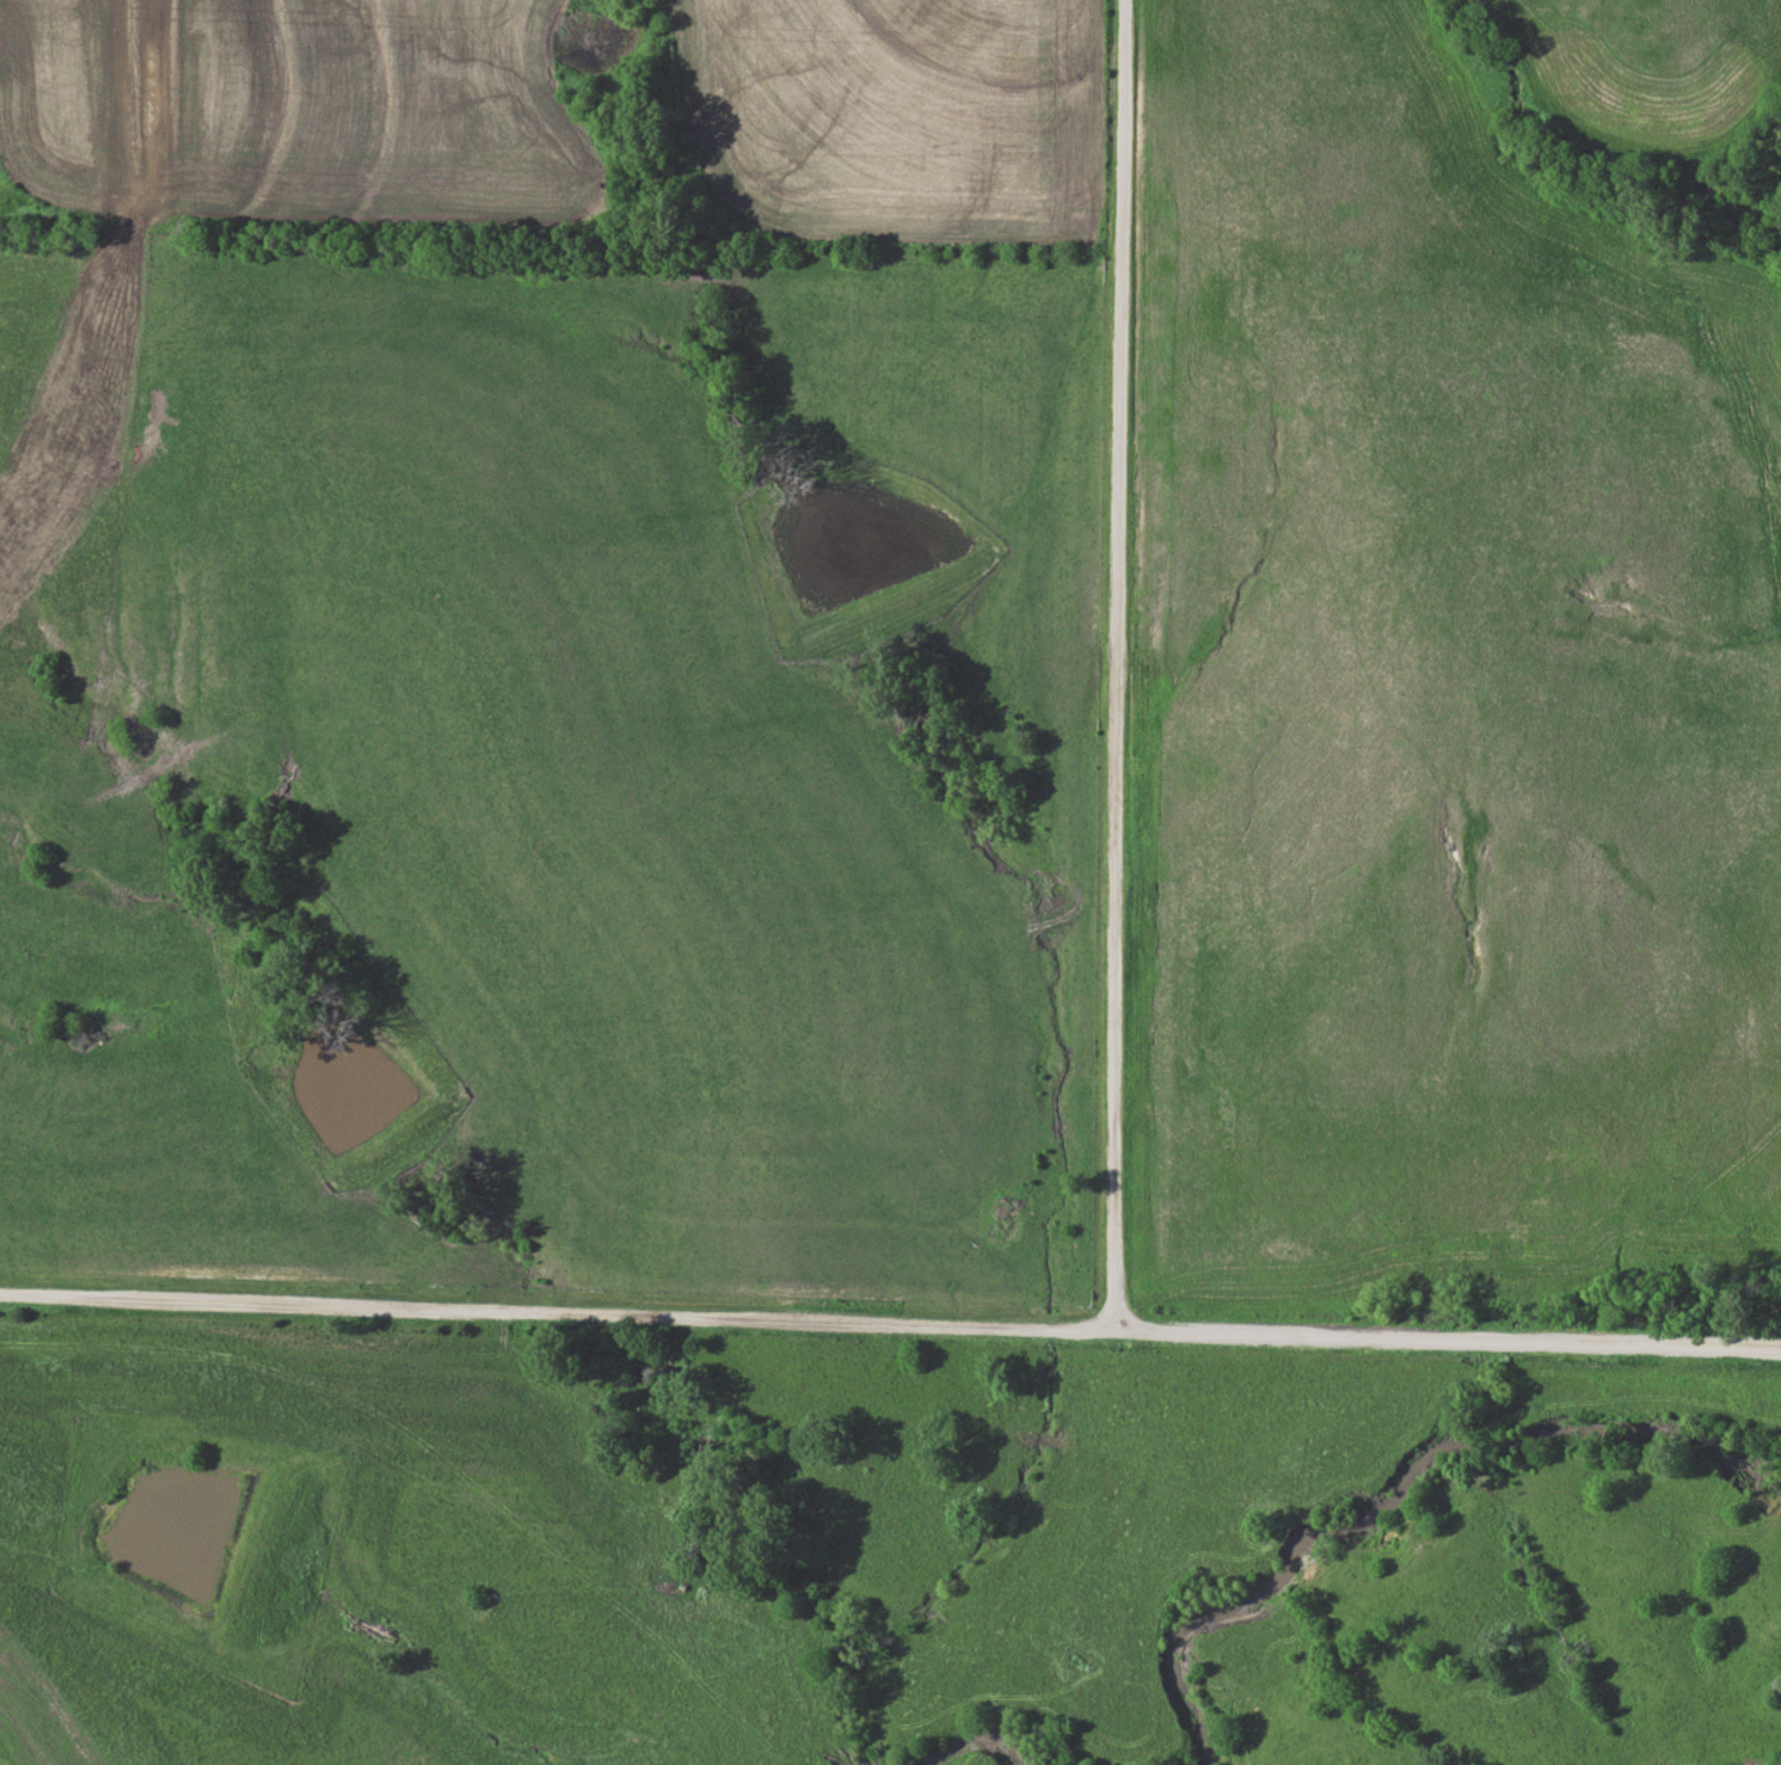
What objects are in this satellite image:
road: (1117, 664)
road: (890, 1322)

